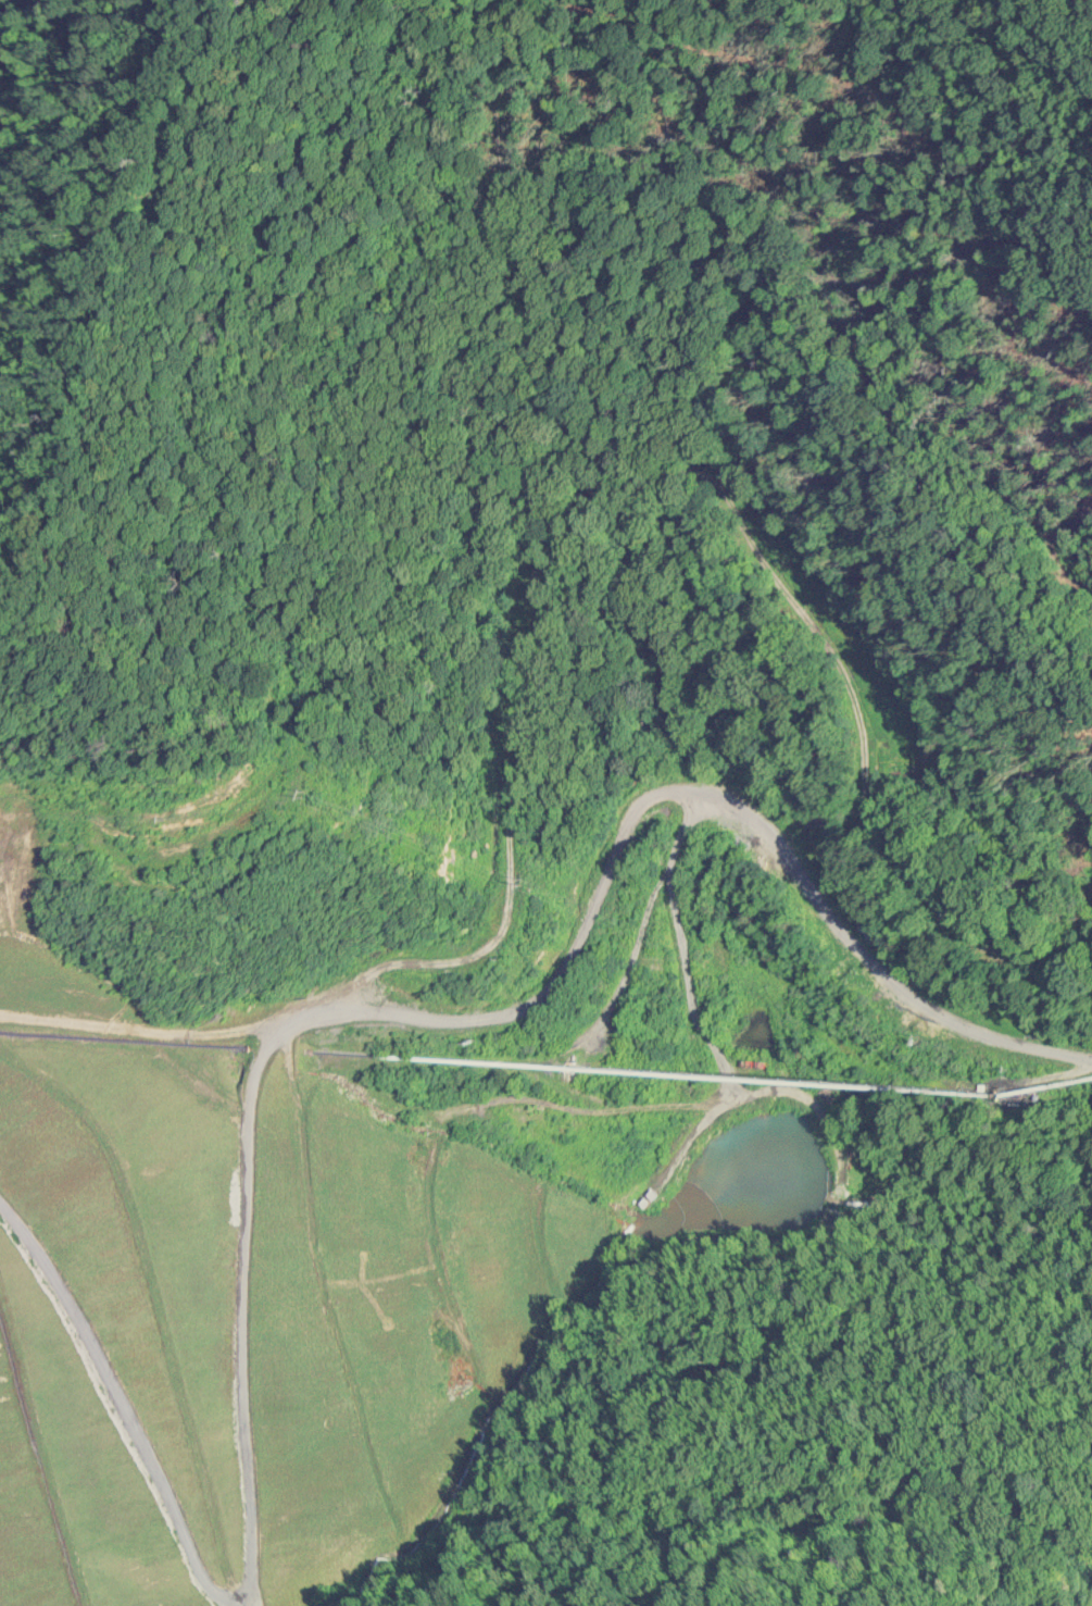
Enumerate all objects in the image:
quarry: (392, 1142)

